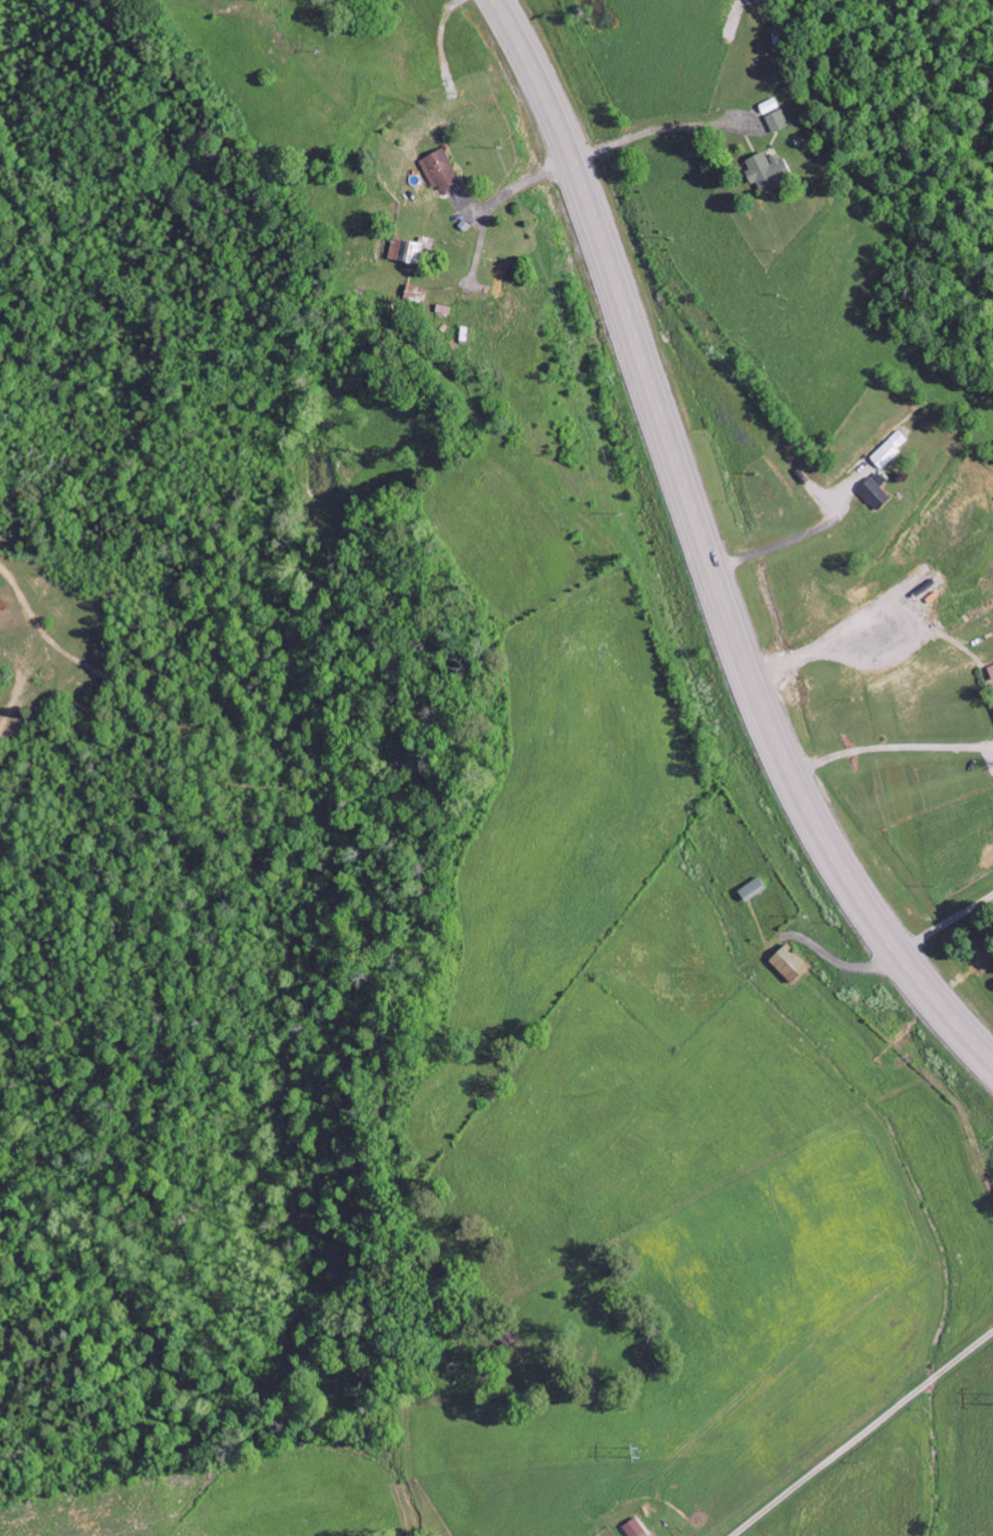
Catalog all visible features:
building: (758, 0)
building: (770, 105)
building: (778, 120)
building: (442, 168)
building: (768, 170)
building: (411, 250)
building: (416, 293)
building: (890, 448)
building: (874, 494)
road: (704, 552)
building: (991, 670)
building: (789, 963)
power tower: (638, 1453)

